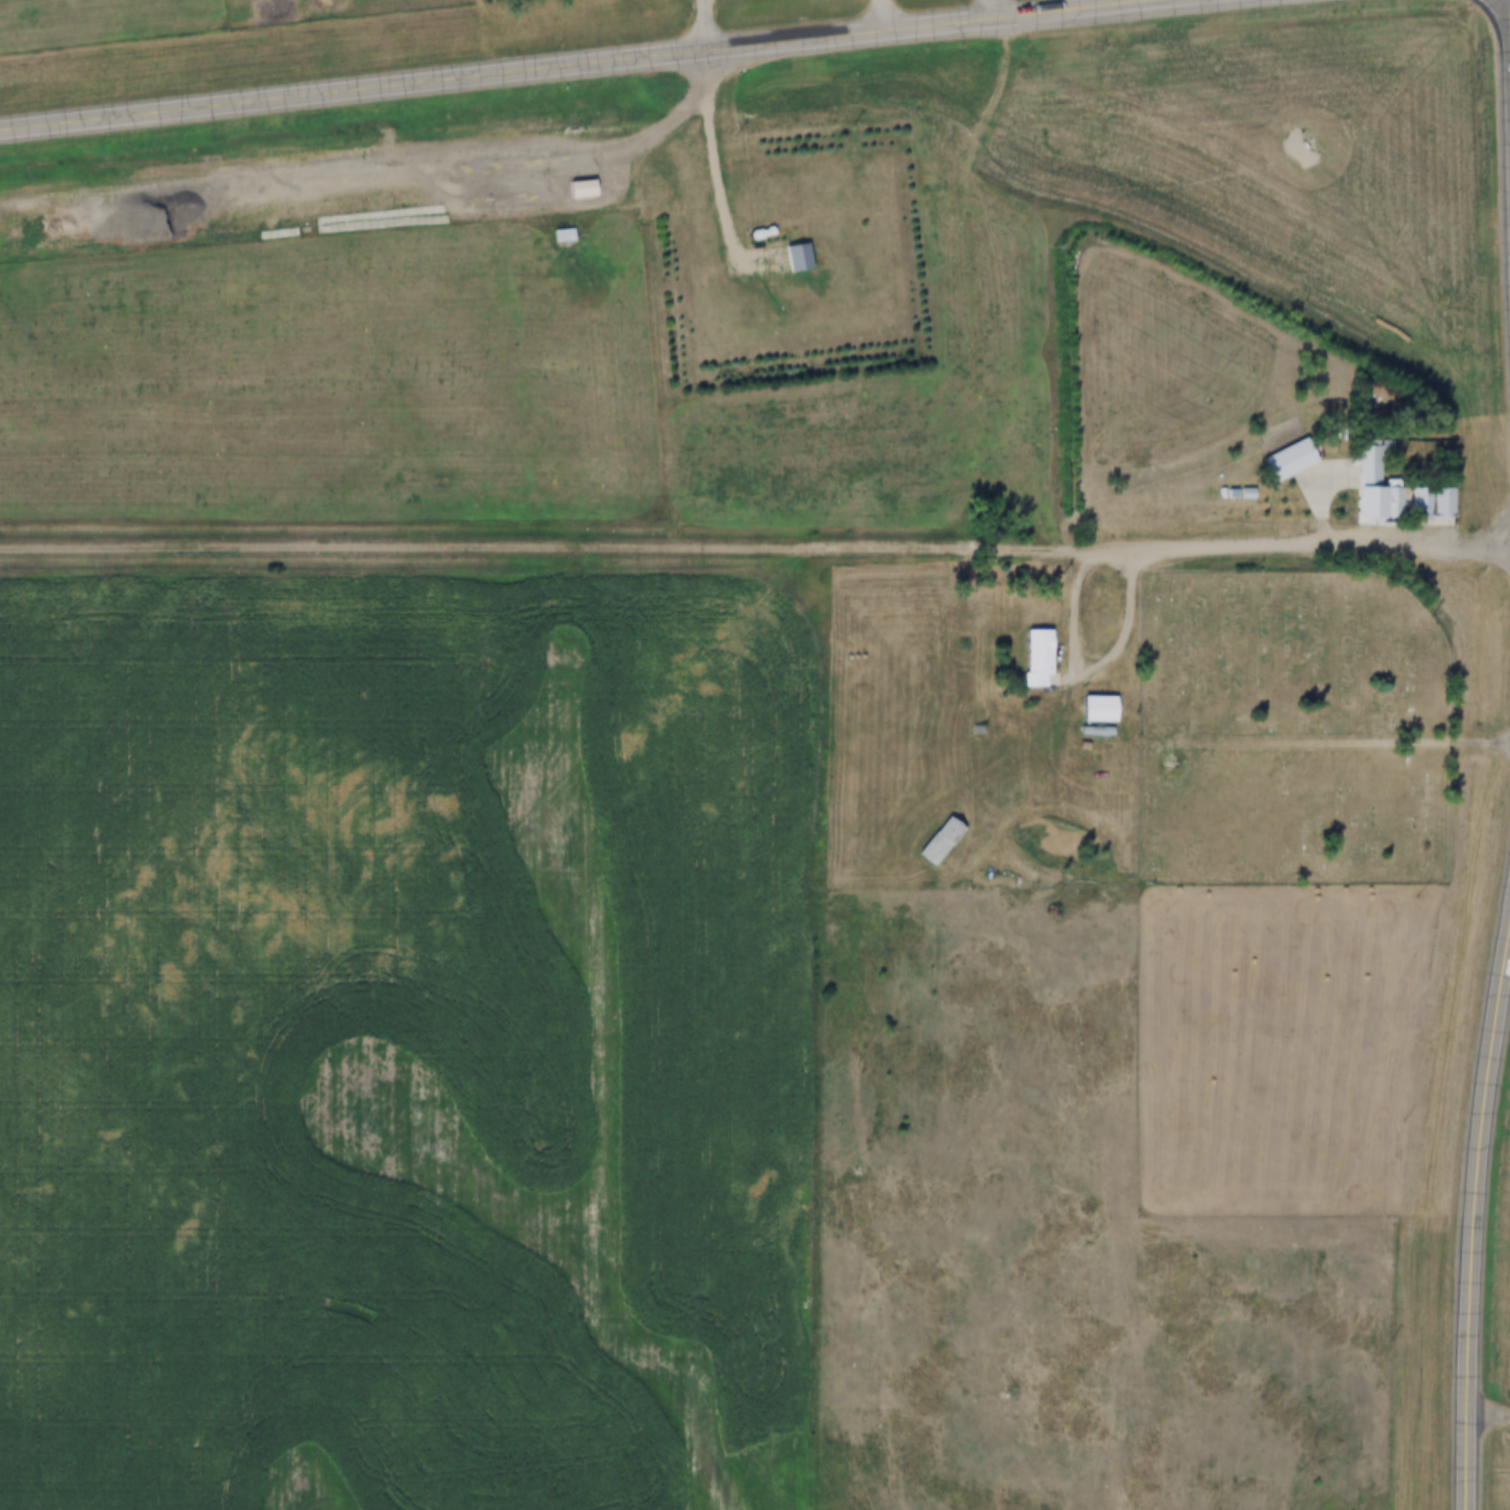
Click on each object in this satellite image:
road: (993, 12)
road: (882, 17)
road: (711, 27)
road: (601, 66)
road: (1506, 137)
road: (396, 167)
road: (706, 175)
building: (585, 188)
building: (566, 234)
building: (793, 241)
building: (1294, 458)
building: (1375, 473)
building: (1432, 502)
road: (544, 552)
road: (1299, 553)
building: (1042, 657)
road: (1100, 658)
building: (1104, 708)
park: (1293, 732)
road: (1345, 747)
building: (944, 839)
road: (1473, 1215)

